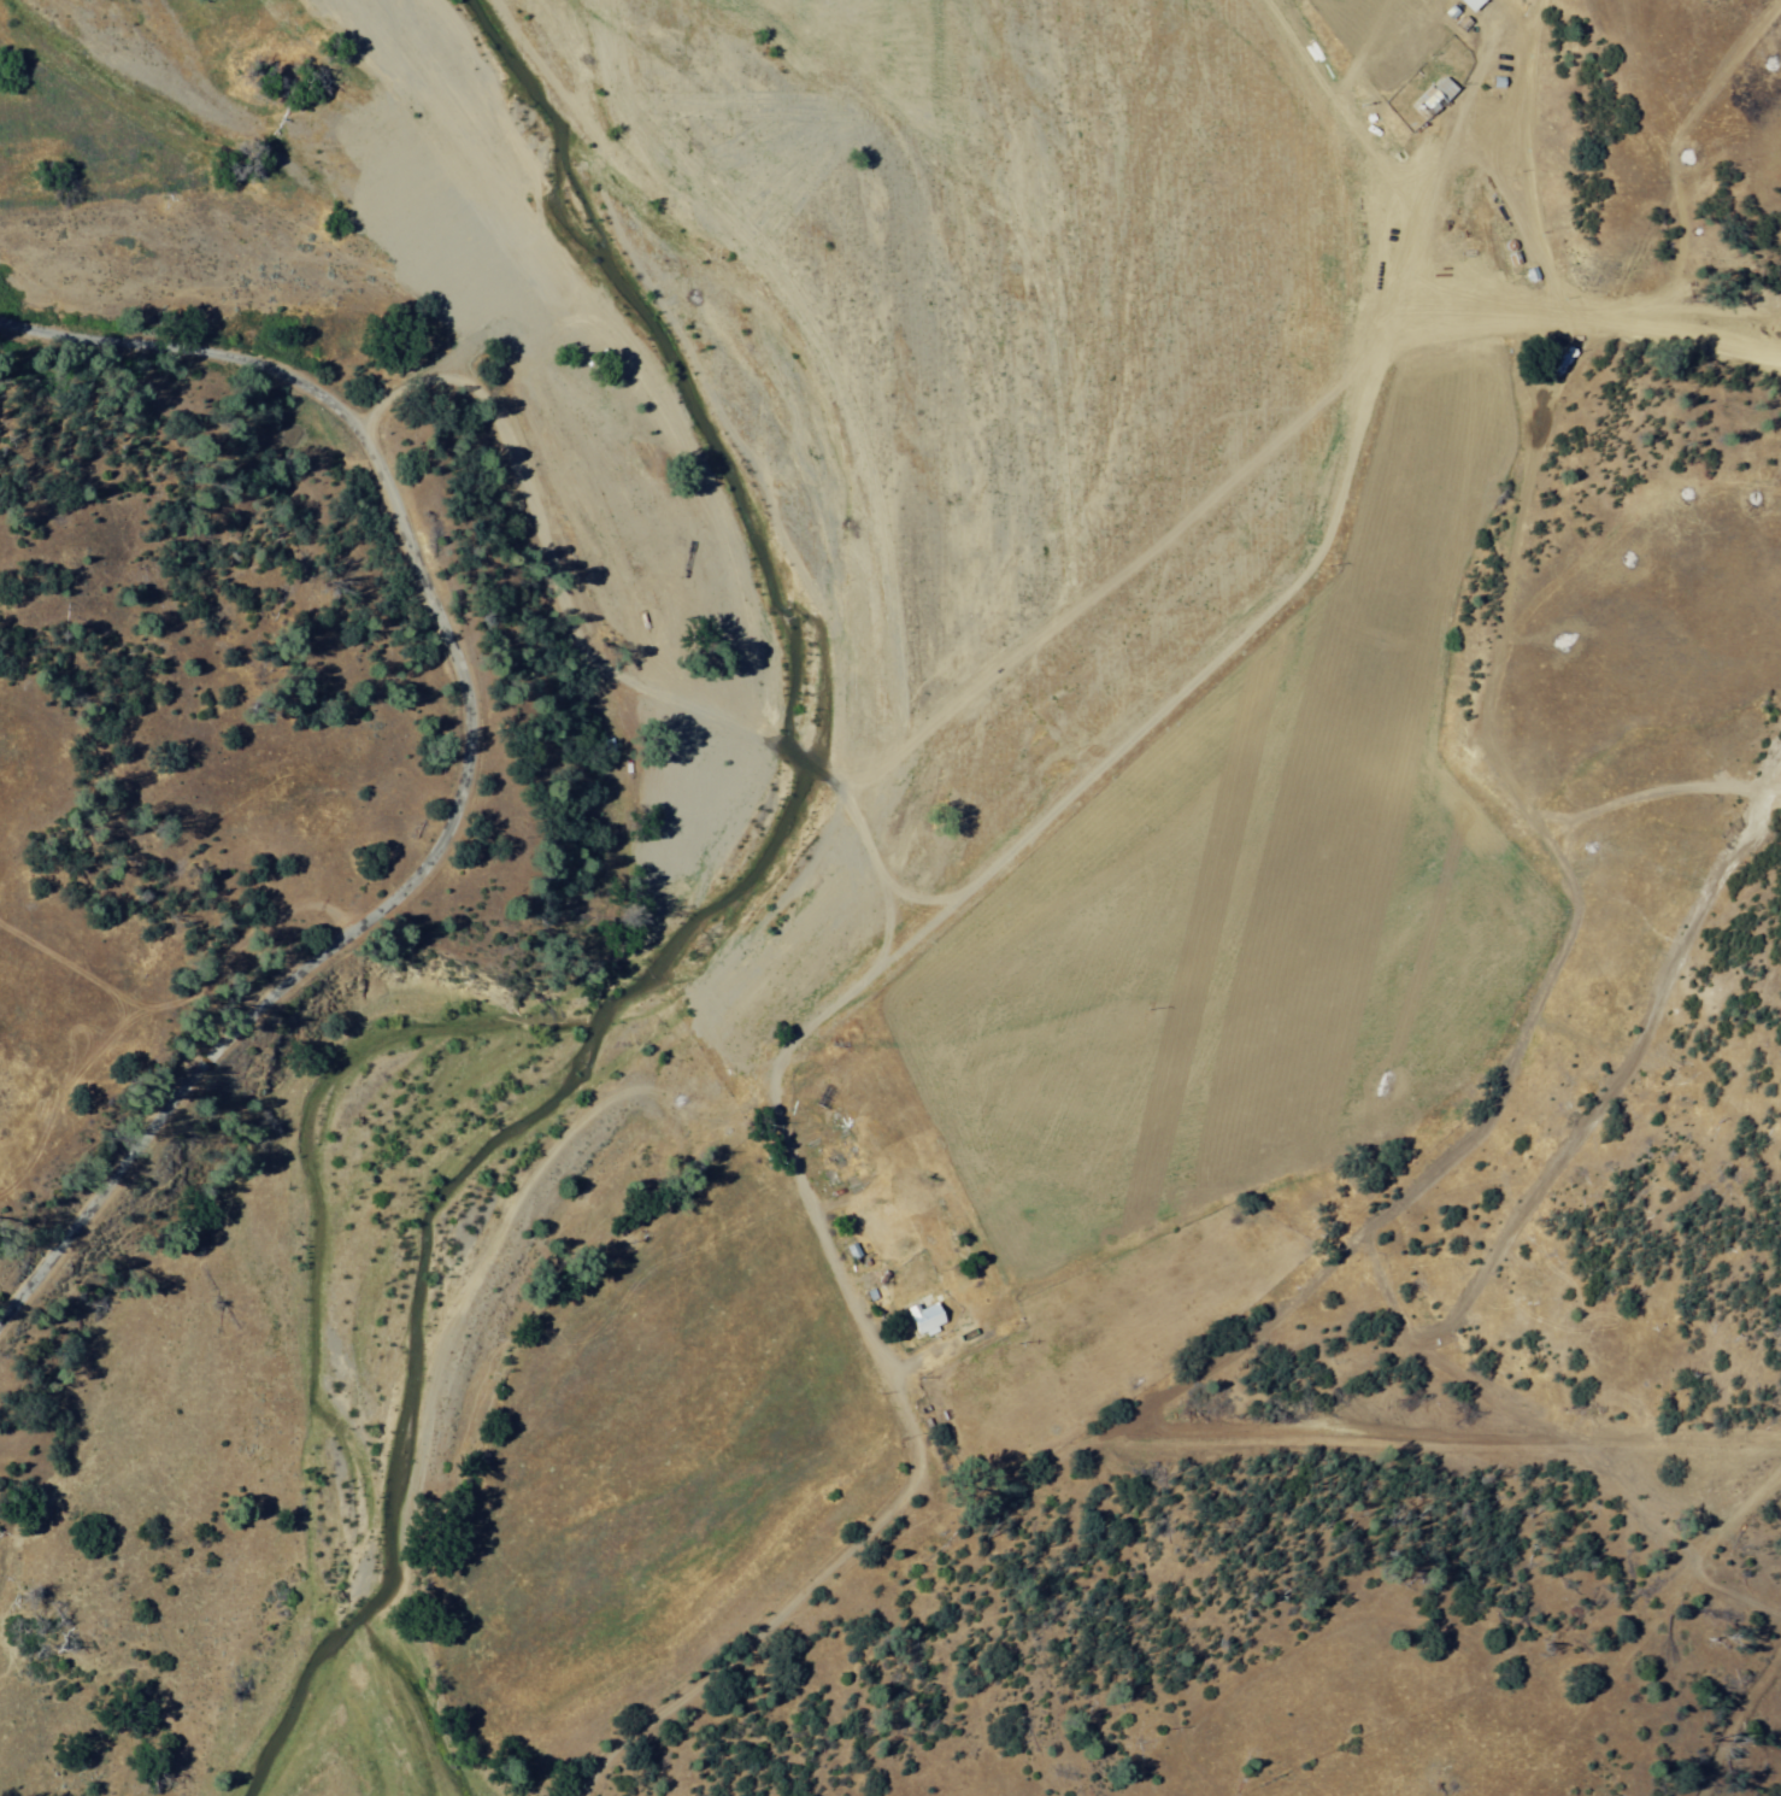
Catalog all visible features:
building: (1462, 17)
building: (1507, 80)
building: (1429, 89)
building: (1439, 95)
river: (551, 142)
river: (787, 464)
road: (1297, 581)
road: (651, 714)
road: (465, 757)
river: (595, 987)
building: (839, 1155)
building: (918, 1314)
building: (933, 1321)
road: (901, 1419)
river: (390, 1468)
river: (325, 1739)

